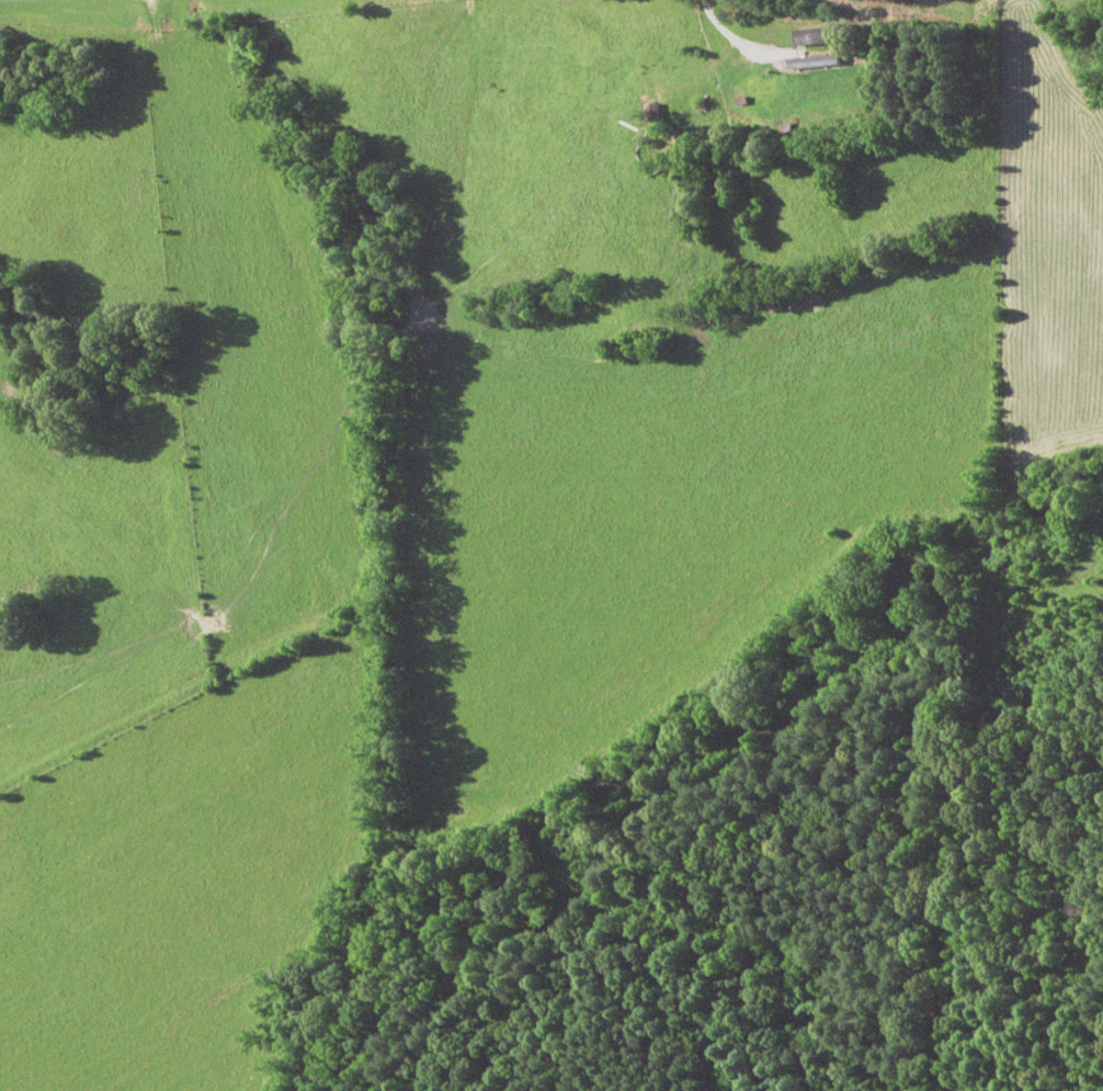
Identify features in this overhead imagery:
building: (811, 37)
building: (651, 114)

